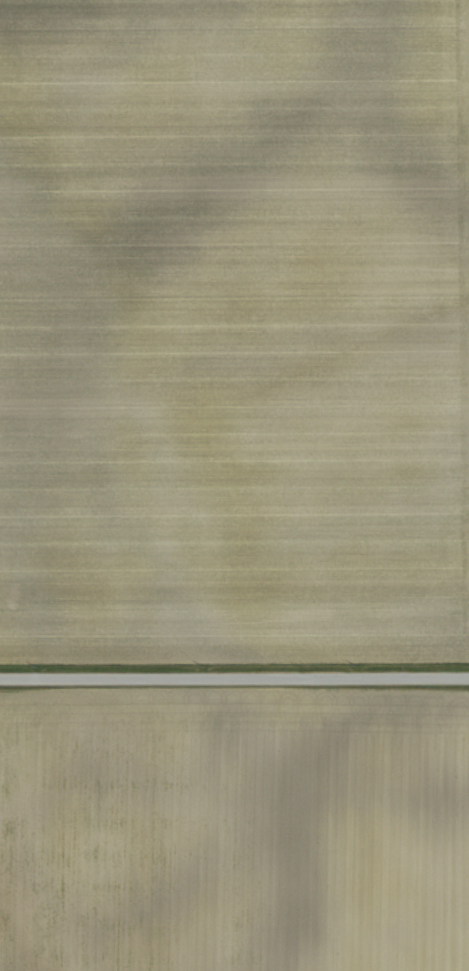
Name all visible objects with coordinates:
road: (234, 675)

